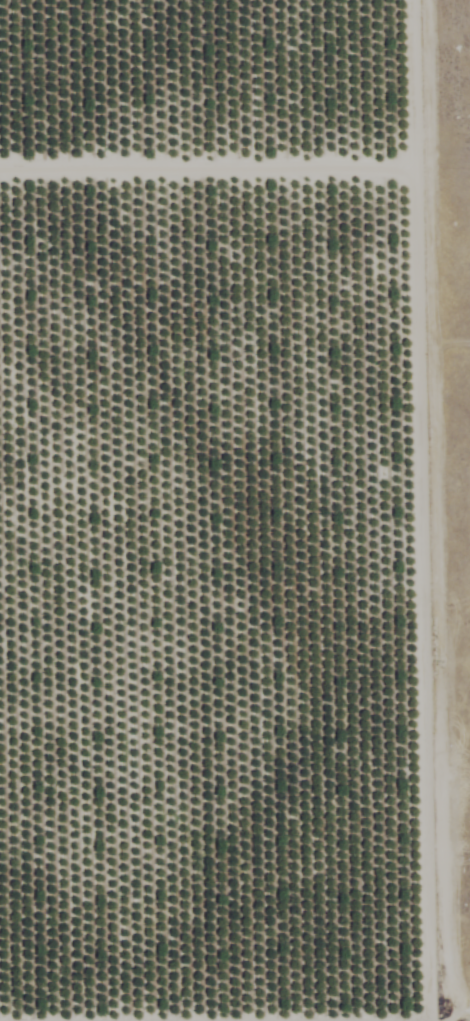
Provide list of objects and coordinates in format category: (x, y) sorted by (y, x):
crop: (216, 515)
road: (211, 1018)

